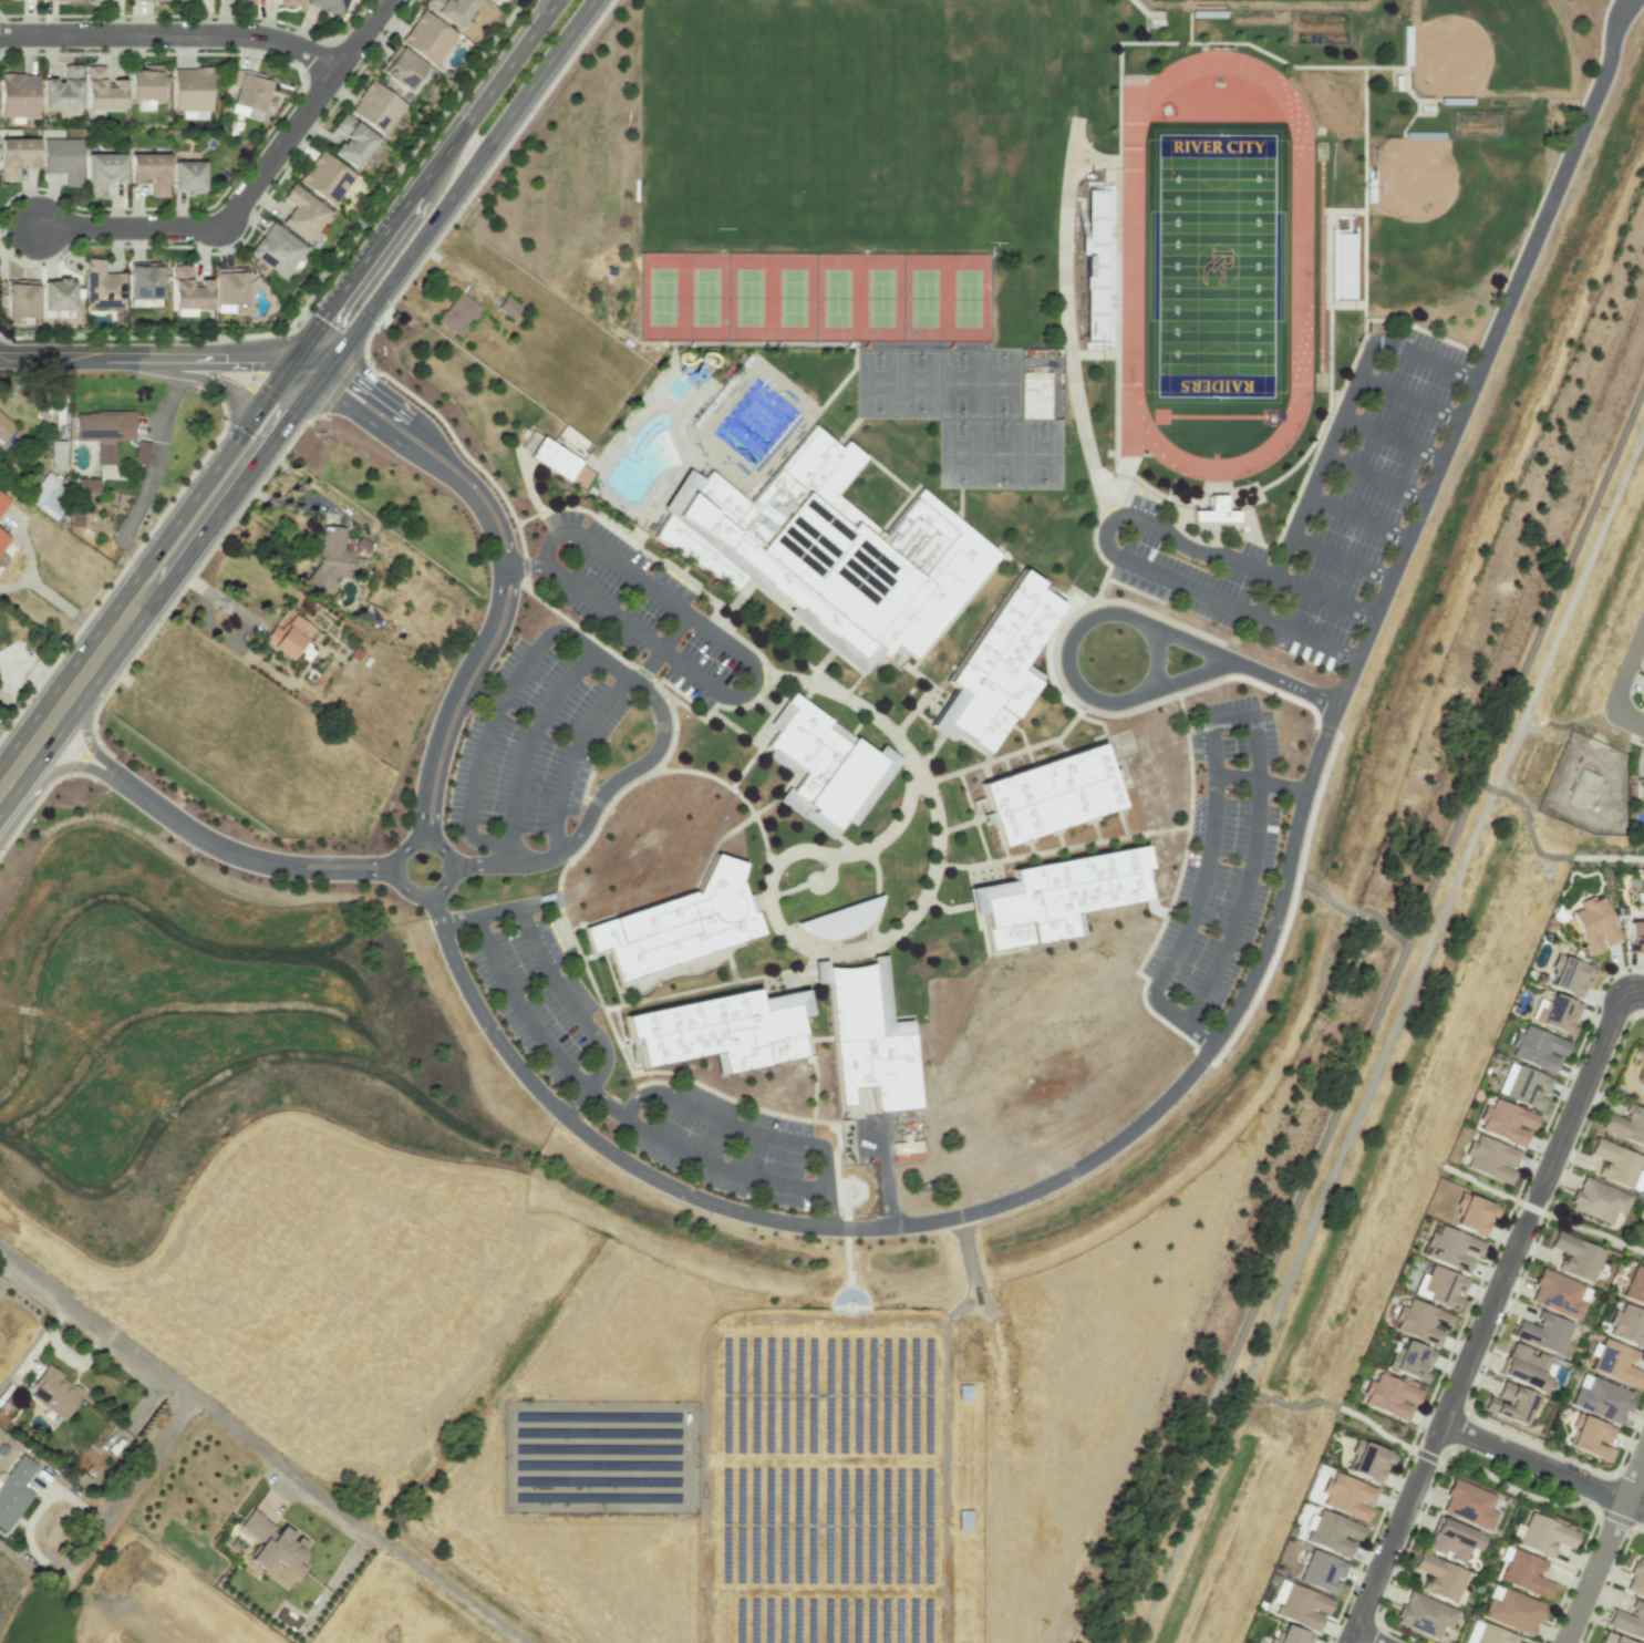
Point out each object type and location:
building: (61, 0)
building: (146, 0)
building: (94, 1)
building: (245, 1)
building: (288, 1)
park: (1251, 3)
building: (329, 6)
building: (455, 10)
street lamp: (39, 18)
street lamp: (290, 27)
road: (172, 32)
building: (428, 37)
park: (1490, 49)
street lamp: (167, 50)
street lamp: (361, 63)
building: (404, 68)
building: (145, 83)
building: (190, 87)
building: (62, 89)
building: (102, 90)
building: (251, 92)
building: (18, 94)
building: (376, 106)
park: (993, 120)
street lamp: (266, 137)
building: (353, 141)
building: (15, 156)
building: (63, 158)
building: (102, 170)
building: (149, 170)
building: (187, 176)
building: (325, 177)
road: (420, 182)
road: (475, 185)
road: (455, 186)
road: (250, 187)
street lamp: (87, 210)
park: (1446, 211)
building: (303, 213)
park: (2, 224)
building: (277, 249)
street lamp: (214, 250)
park: (1216, 265)
track: (1300, 265)
building: (144, 282)
building: (102, 286)
building: (230, 286)
building: (189, 290)
building: (58, 294)
park: (661, 296)
park: (704, 296)
park: (748, 296)
park: (792, 297)
park: (836, 297)
park: (880, 297)
park: (923, 297)
park: (966, 297)
building: (20, 298)
building: (507, 307)
building: (456, 313)
street lamp: (102, 340)
road: (143, 359)
traffic signals: (287, 363)
road: (303, 369)
traffic signals: (320, 374)
park: (877, 382)
park: (918, 382)
park: (960, 382)
park: (1000, 382)
road: (1407, 399)
road: (1345, 409)
building: (4, 427)
building: (103, 431)
road: (1390, 437)
park: (959, 451)
park: (1000, 452)
park: (1041, 452)
building: (141, 453)
building: (56, 455)
road: (424, 458)
building: (552, 458)
road: (155, 468)
road: (1374, 477)
building: (86, 485)
building: (761, 490)
building: (48, 495)
parking lot: (1365, 499)
building: (2, 503)
building: (1213, 513)
road: (1357, 516)
building: (1, 538)
road: (1341, 556)
building: (329, 559)
road: (1137, 561)
road: (524, 562)
building: (876, 562)
road: (144, 564)
road: (514, 568)
building: (697, 570)
road: (188, 579)
road: (32, 582)
road: (159, 593)
road: (1265, 596)
road: (219, 597)
road: (1323, 597)
parking lot: (643, 609)
building: (370, 612)
road: (673, 630)
building: (287, 637)
road: (1159, 655)
road: (1069, 660)
building: (1002, 664)
road: (1242, 664)
road: (649, 665)
road: (752, 665)
road: (1188, 671)
road: (1627, 671)
street lamp: (1631, 690)
building: (1643, 694)
road: (451, 699)
road: (486, 699)
road: (505, 699)
road: (1627, 717)
road: (1326, 730)
street lamp: (1635, 738)
road: (1213, 741)
road: (6, 742)
parking lot: (531, 745)
road: (93, 747)
road: (526, 750)
road: (570, 756)
building: (825, 757)
road: (64, 767)
building: (1638, 787)
building: (1056, 794)
building: (1581, 794)
road: (38, 800)
road: (591, 812)
road: (432, 844)
park: (1609, 849)
road: (1540, 851)
parking lot: (1220, 855)
road: (254, 858)
road: (1433, 880)
building: (1063, 899)
road: (519, 905)
road: (1190, 908)
road: (1345, 911)
road: (457, 919)
building: (680, 921)
road: (1232, 923)
building: (1594, 924)
building: (1635, 937)
road: (893, 938)
building: (1568, 975)
street lamp: (1603, 982)
road: (1388, 983)
road: (1245, 986)
parking lot: (535, 994)
road: (1631, 994)
road: (563, 1001)
road: (521, 1009)
building: (1555, 1014)
building: (713, 1027)
building: (868, 1037)
building: (1537, 1048)
building: (1641, 1072)
building: (1522, 1086)
road: (573, 1099)
building: (1506, 1122)
road: (737, 1124)
building: (1625, 1125)
parking lot: (727, 1145)
road: (699, 1158)
road: (885, 1158)
building: (1490, 1158)
building: (1614, 1162)
park: (1479, 1184)
road: (1479, 1184)
building: (1598, 1200)
street lamp: (1514, 1205)
road: (827, 1207)
road: (1531, 1207)
building: (1472, 1213)
road: (1594, 1230)
park: (1594, 1233)
building: (1451, 1248)
building: (1575, 1255)
road: (971, 1269)
building: (1634, 1285)
building: (1439, 1286)
building: (1559, 1294)
road: (962, 1305)
road: (1483, 1321)
building: (1420, 1322)
building: (1627, 1325)
building: (1542, 1332)
building: (1410, 1361)
building: (1616, 1363)
building: (1524, 1367)
building: (54, 1393)
building: (1389, 1396)
building: (1601, 1398)
building: (1509, 1403)
park: (1377, 1427)
street lamp: (1420, 1428)
building: (1589, 1437)
road: (259, 1447)
building: (1368, 1460)
road: (1542, 1464)
street lamp: (1526, 1477)
park: (1520, 1487)
building: (13, 1489)
road: (125, 1491)
building: (1347, 1496)
building: (1469, 1502)
road: (1167, 1510)
road: (1171, 1510)
building: (1333, 1533)
building: (1542, 1533)
building: (1452, 1538)
park: (1634, 1538)
building: (272, 1543)
road: (1603, 1548)
building: (1321, 1572)
building: (1526, 1572)
building: (1439, 1575)
building: (1635, 1579)
building: (1300, 1605)
building: (1514, 1610)
building: (1425, 1613)
building: (1627, 1621)
building: (1487, 1633)
building: (1291, 1635)
road: (1364, 1637)
building: (1612, 1639)
street lamp: (1331, 1640)

